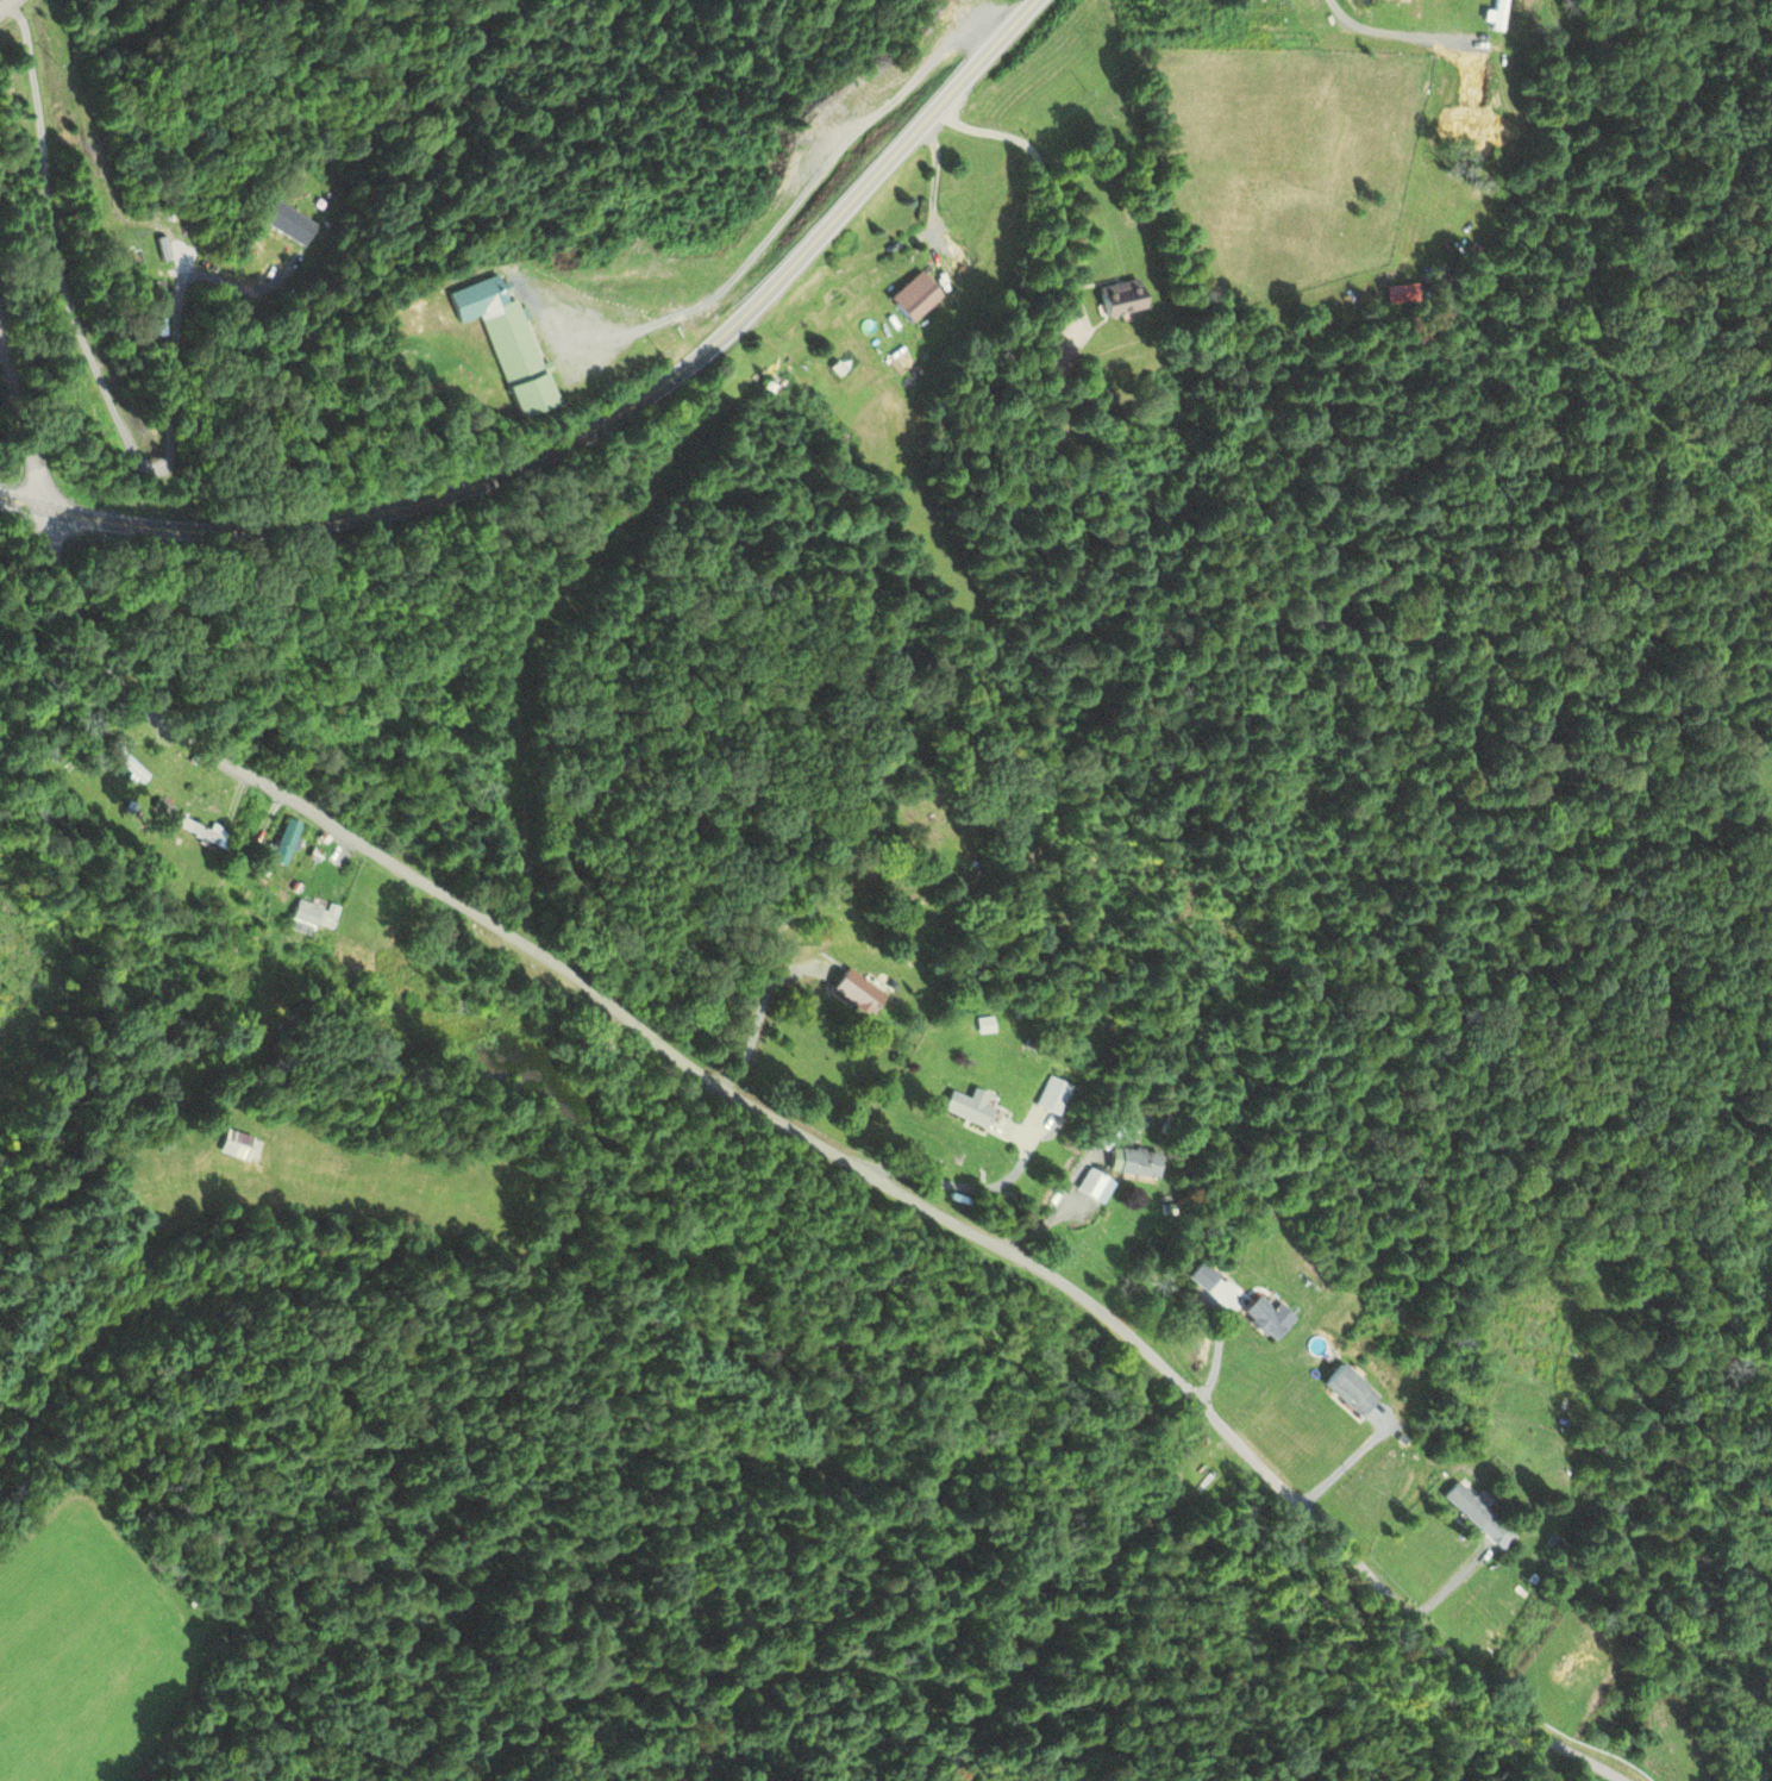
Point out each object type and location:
road: (4, 2)
building: (1120, 300)
building: (849, 304)
building: (506, 344)
building: (1057, 360)
road: (589, 423)
building: (284, 844)
building: (382, 907)
building: (312, 918)
building: (858, 994)
building: (987, 1027)
road: (733, 1082)
building: (1053, 1098)
building: (966, 1110)
building: (239, 1146)
building: (1133, 1164)
building: (1096, 1188)
building: (1204, 1277)
building: (1267, 1319)
building: (1351, 1391)
building: (1467, 1505)

